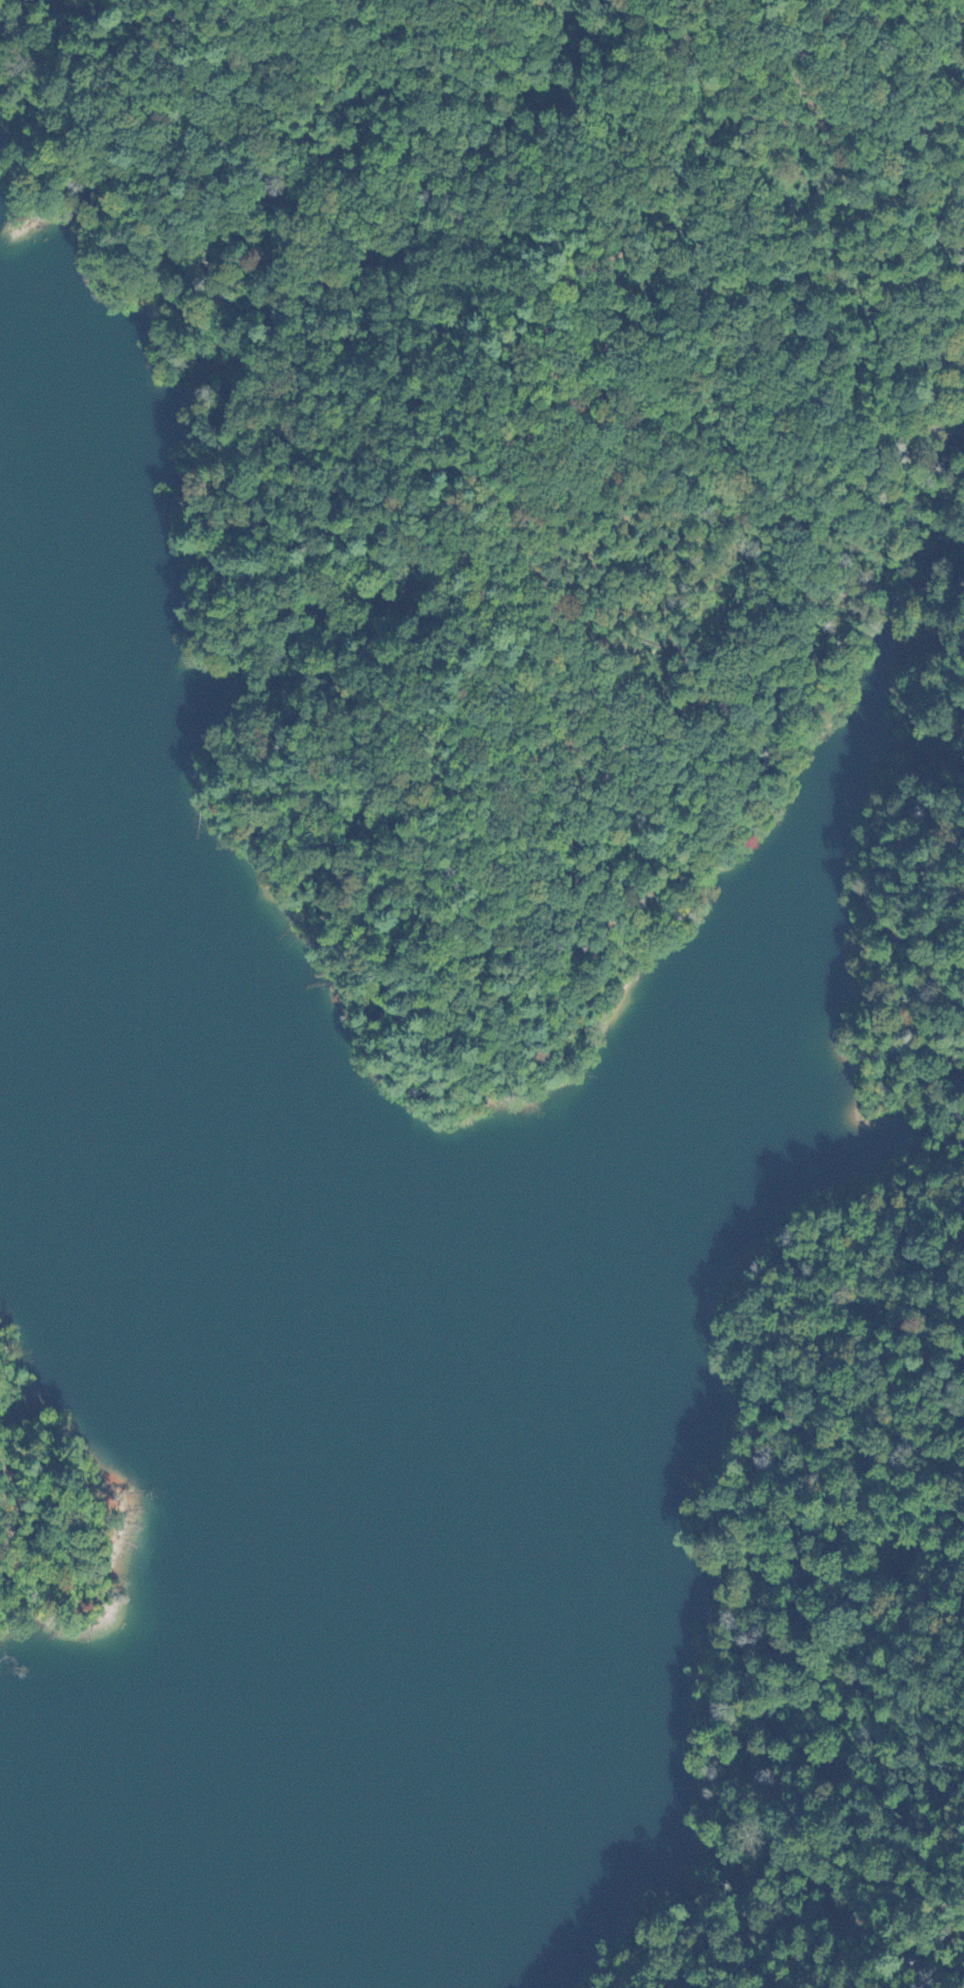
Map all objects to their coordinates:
road: (812, 498)
road: (58, 1487)

